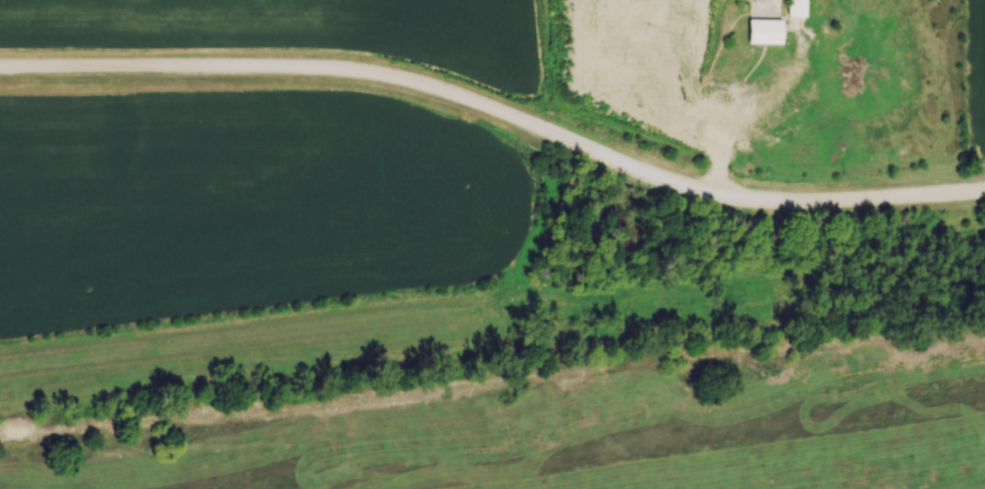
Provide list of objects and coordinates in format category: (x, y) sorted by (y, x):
building: (796, 7)
crop: (296, 28)
building: (764, 30)
road: (497, 115)
parking lot: (723, 117)
road: (719, 150)
crop: (239, 194)

